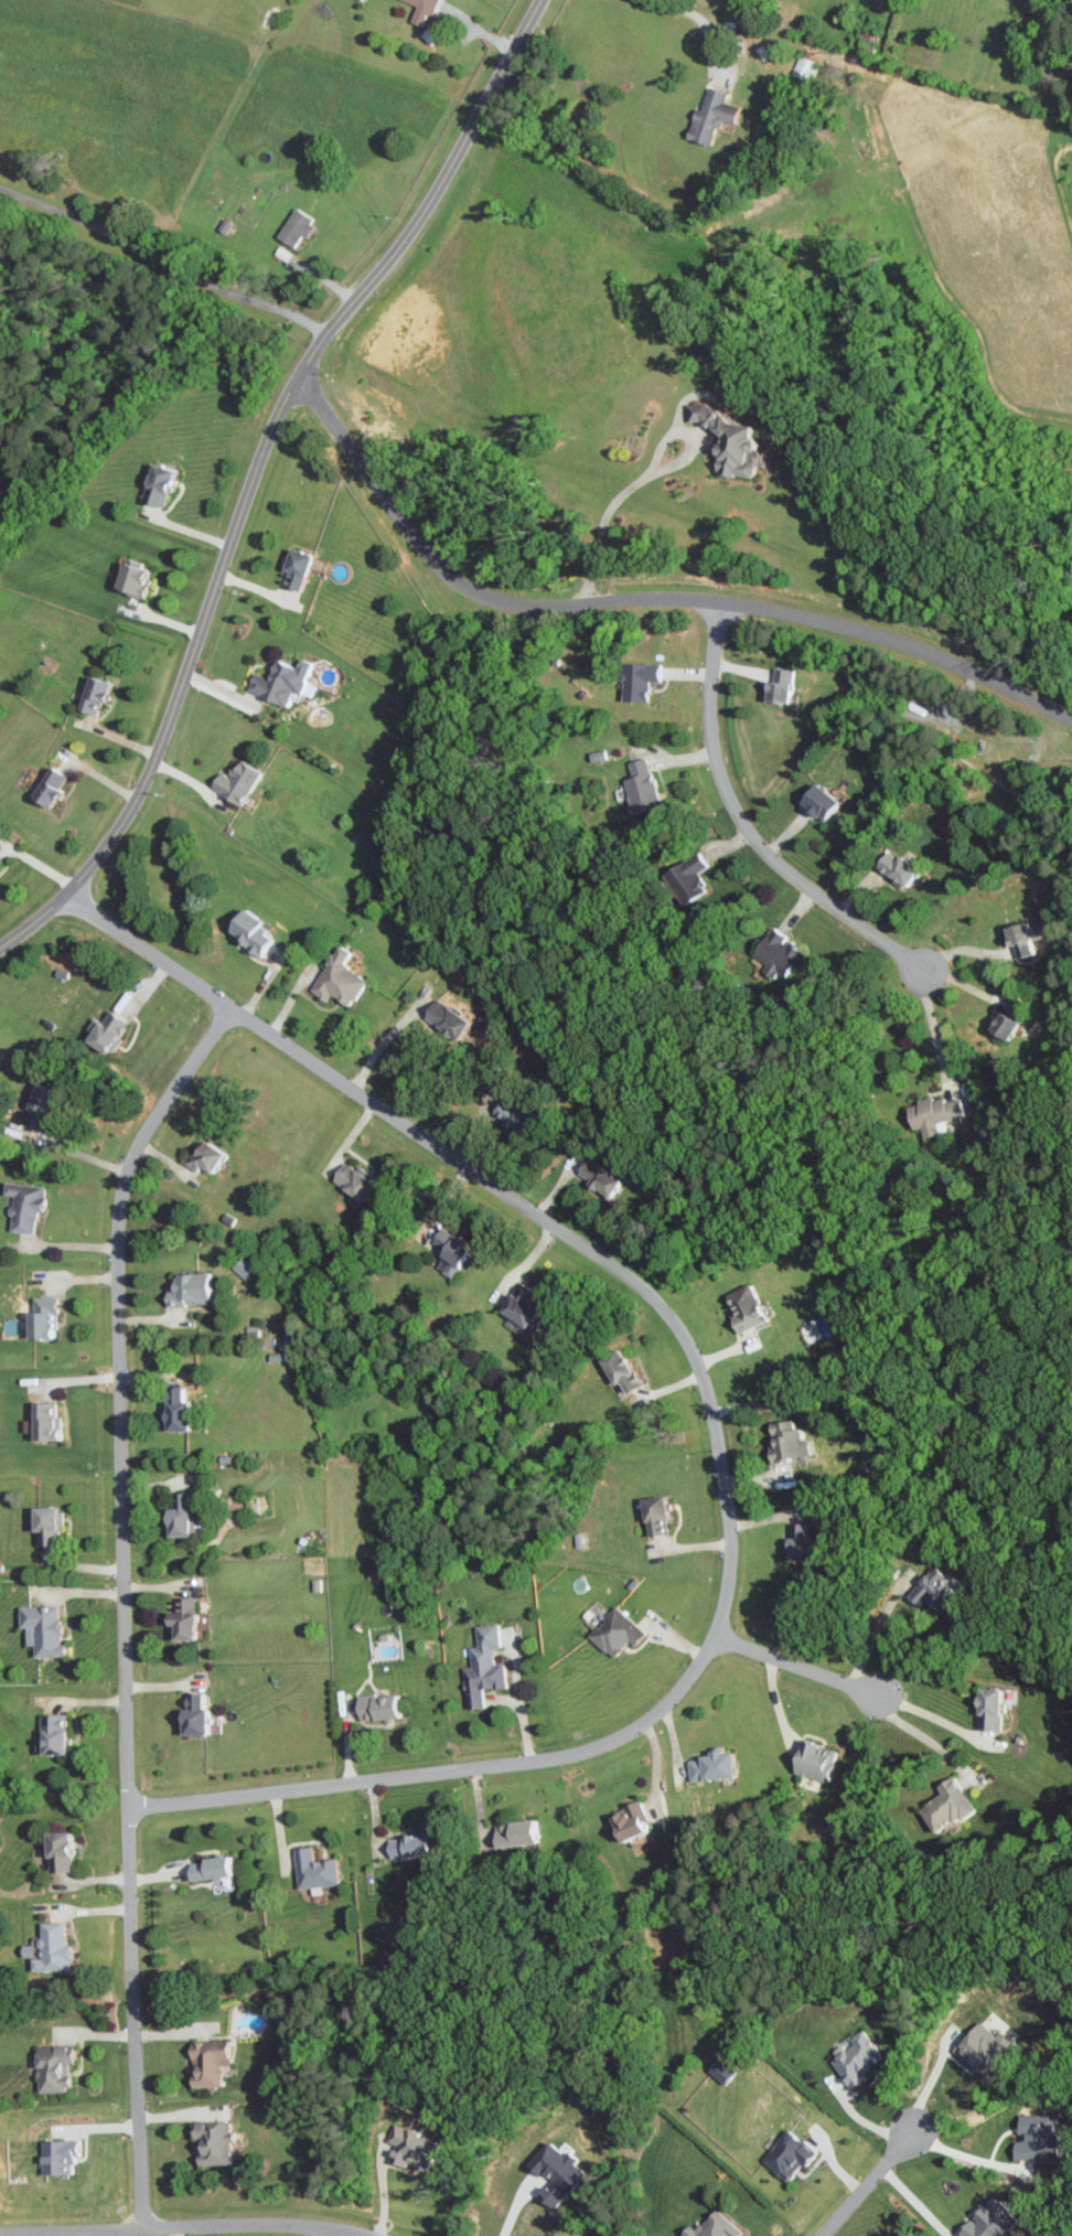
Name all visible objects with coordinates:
building: (420, 10)
road: (694, 14)
building: (804, 67)
building: (709, 114)
building: (293, 226)
road: (161, 261)
building: (725, 440)
road: (258, 470)
road: (640, 480)
building: (154, 483)
building: (292, 568)
building: (129, 577)
road: (639, 600)
building: (635, 680)
building: (776, 686)
building: (89, 695)
building: (596, 756)
building: (233, 782)
building: (46, 785)
building: (641, 785)
building: (815, 802)
road: (746, 826)
building: (893, 868)
building: (689, 877)
building: (248, 933)
building: (1020, 938)
road: (963, 950)
building: (773, 952)
building: (336, 980)
building: (444, 1017)
road: (934, 1026)
building: (1001, 1026)
building: (105, 1031)
road: (382, 1044)
building: (35, 1105)
building: (932, 1114)
building: (514, 1124)
road: (78, 1153)
building: (202, 1155)
building: (593, 1175)
building: (351, 1177)
building: (21, 1203)
building: (243, 1266)
building: (185, 1287)
building: (519, 1307)
building: (743, 1307)
building: (39, 1317)
building: (619, 1369)
building: (172, 1408)
building: (42, 1420)
road: (715, 1424)
building: (785, 1441)
building: (652, 1513)
building: (178, 1515)
building: (44, 1522)
building: (794, 1540)
building: (937, 1587)
road: (124, 1601)
building: (180, 1618)
building: (40, 1627)
building: (613, 1630)
road: (875, 1635)
building: (481, 1665)
road: (798, 1666)
building: (375, 1707)
road: (519, 1708)
building: (986, 1708)
building: (190, 1712)
road: (930, 1714)
building: (50, 1732)
road: (922, 1743)
building: (813, 1761)
building: (707, 1765)
building: (944, 1804)
building: (625, 1819)
building: (513, 1832)
building: (406, 1847)
building: (55, 1850)
building: (210, 1868)
building: (311, 1868)
building: (46, 1948)
building: (978, 2046)
building: (854, 2055)
building: (206, 2061)
building: (51, 2067)
building: (718, 2069)
road: (930, 2082)
building: (1033, 2140)
building: (211, 2142)
building: (409, 2147)
building: (56, 2154)
building: (785, 2154)
road: (966, 2157)
building: (555, 2173)
road: (867, 2184)
road: (382, 2187)
road: (912, 2203)
road: (511, 2206)
building: (988, 2218)
road: (176, 2225)
building: (712, 2225)
road: (176, 2230)
road: (311, 2230)

